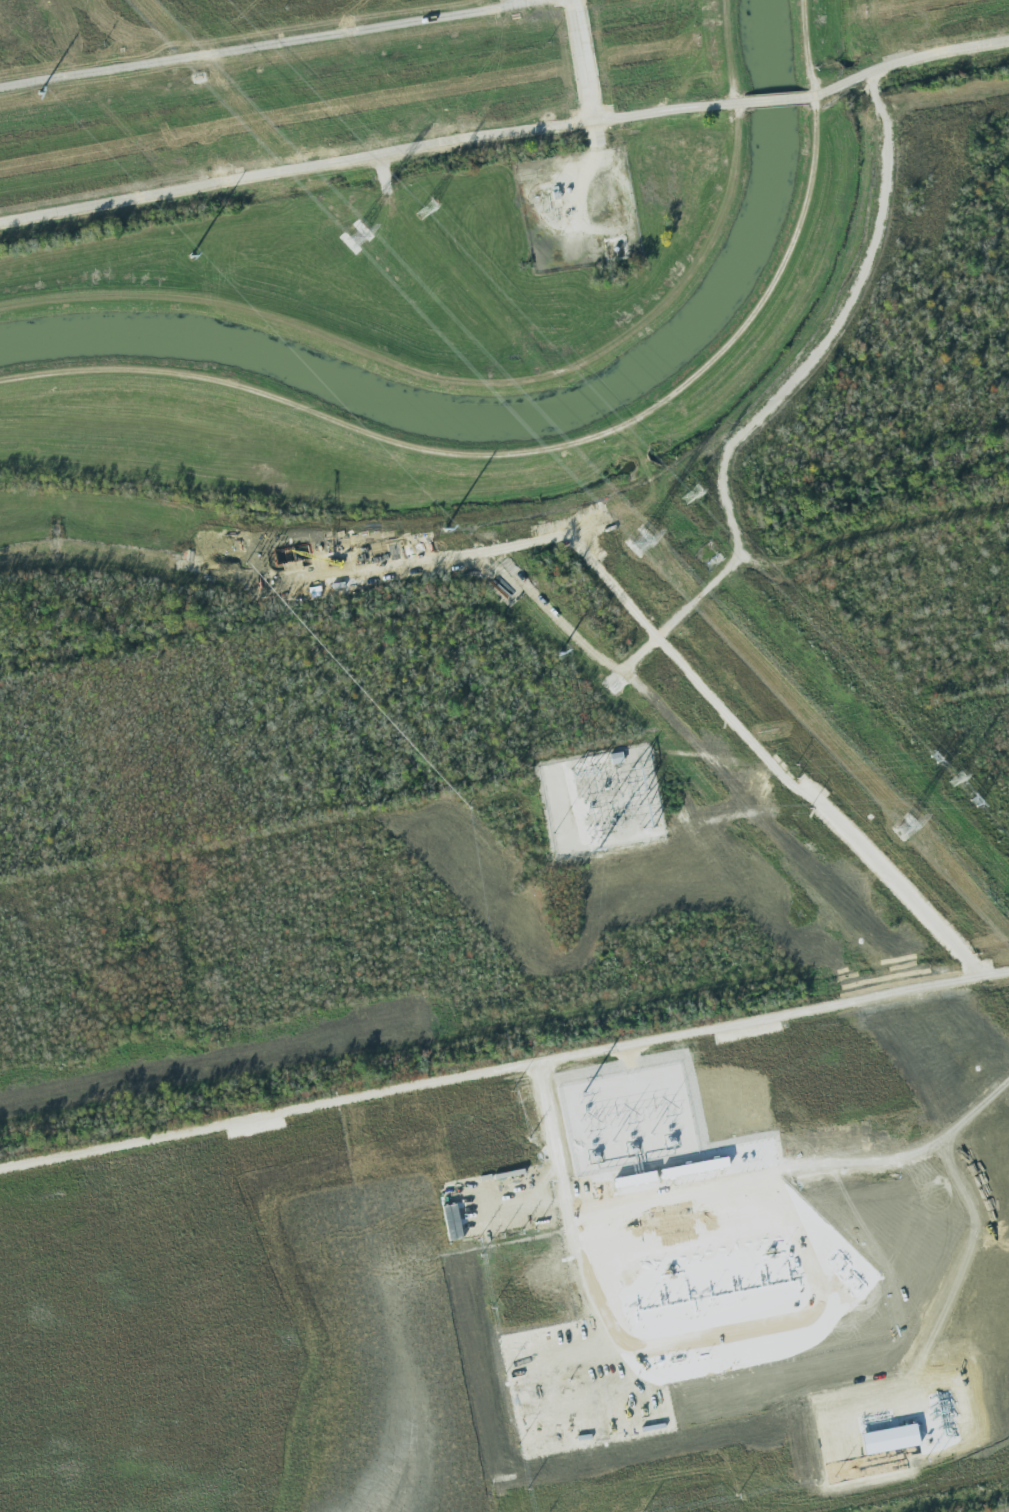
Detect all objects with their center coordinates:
road: (905, 61)
road: (778, 98)
road: (374, 161)
power tower: (426, 210)
power tower: (353, 240)
power tower: (690, 496)
power tower: (637, 544)
power tower: (957, 780)
power substation: (601, 800)
power tower: (977, 802)
power tower: (905, 829)
road: (504, 1058)
road: (889, 1152)

